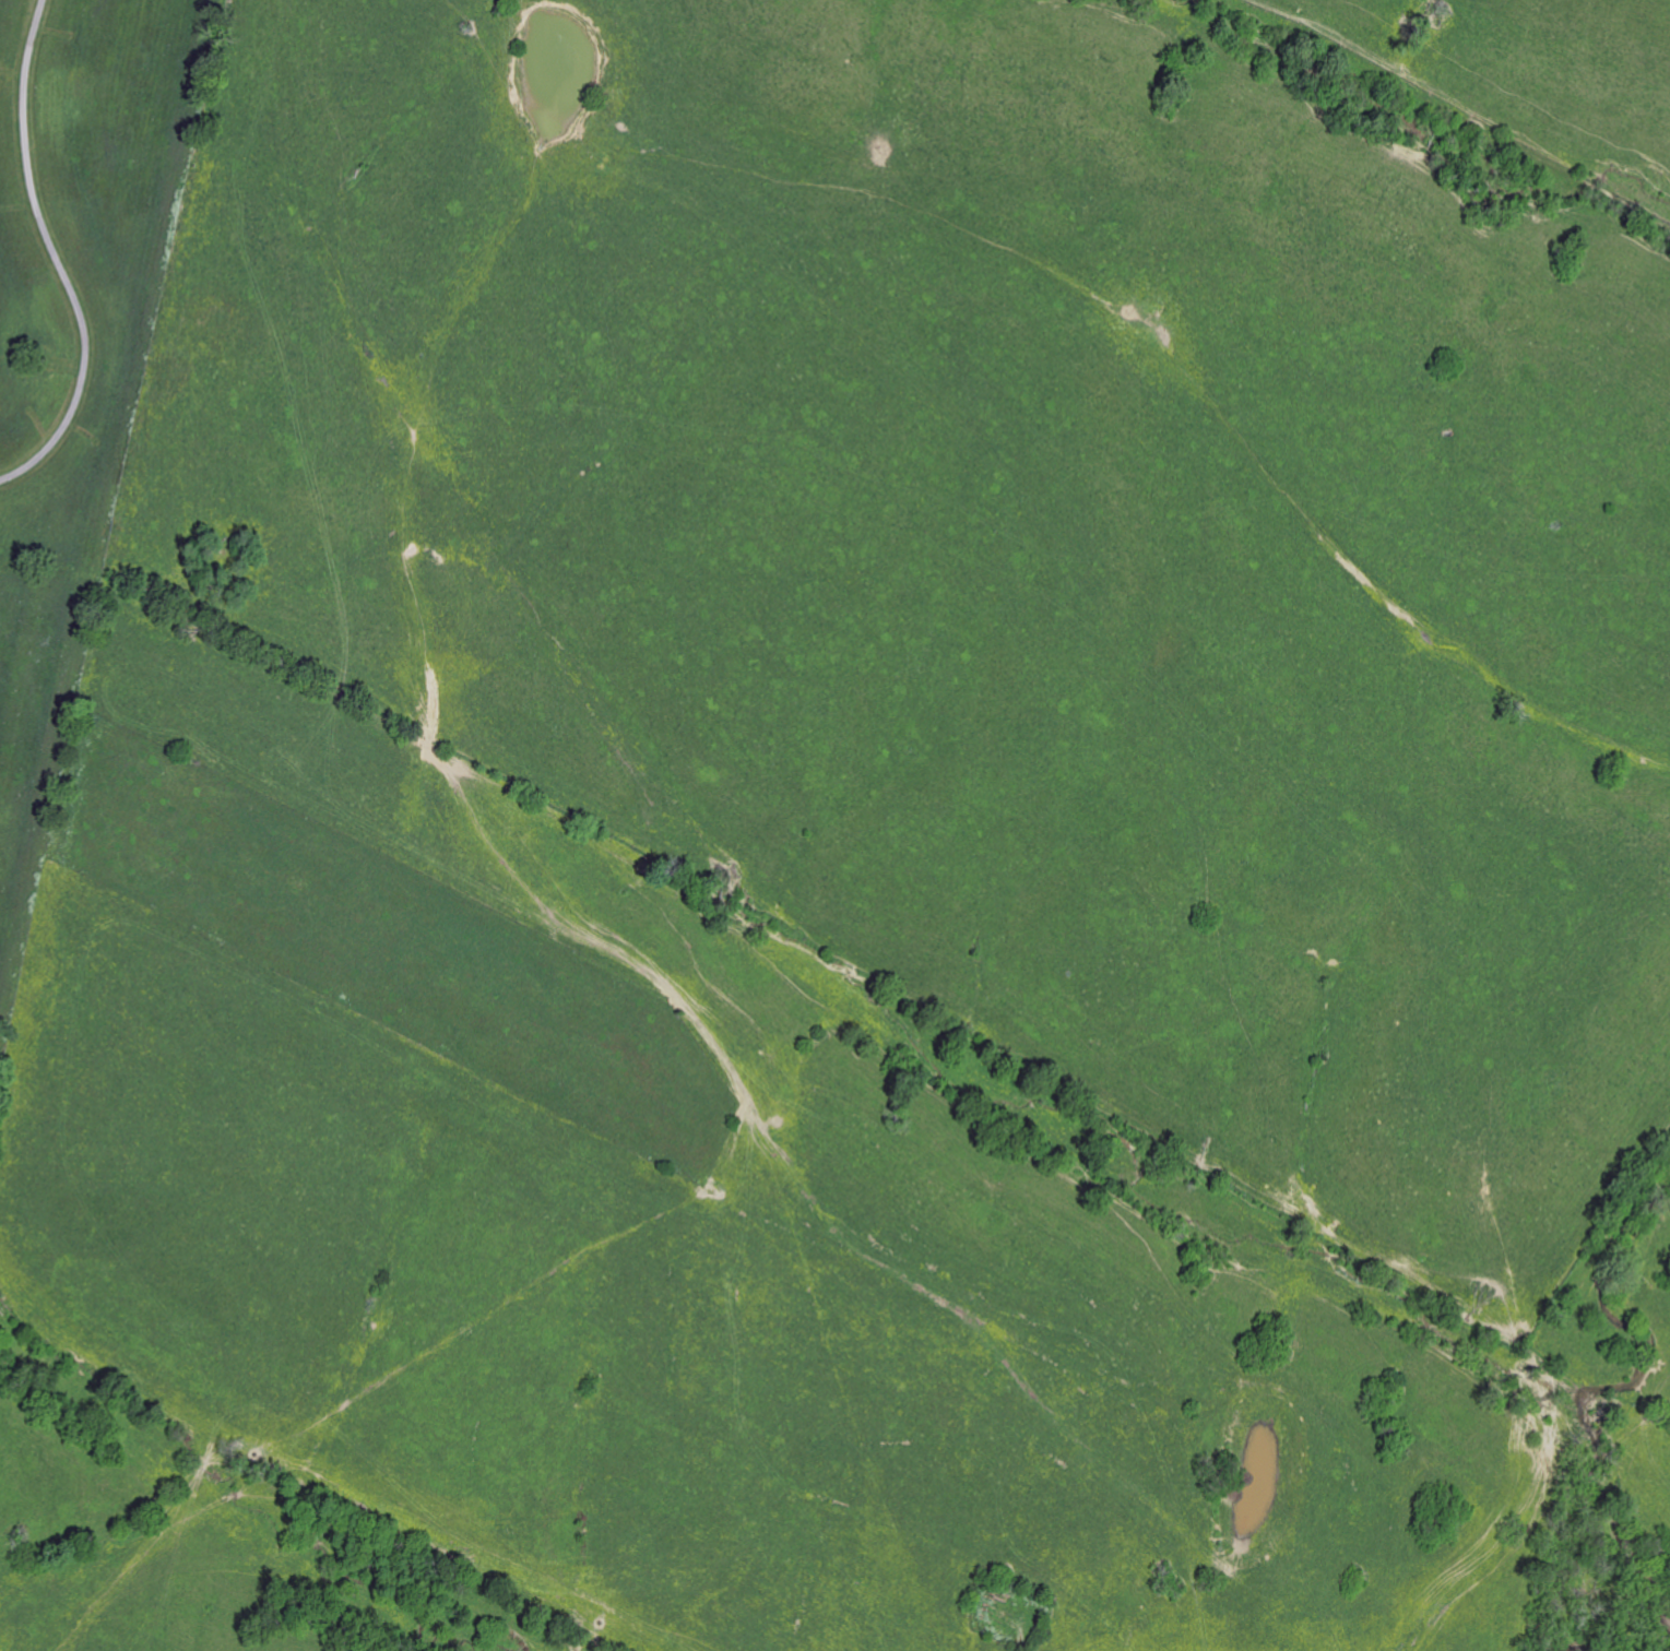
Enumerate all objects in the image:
road: (56, 258)
park: (70, 319)

